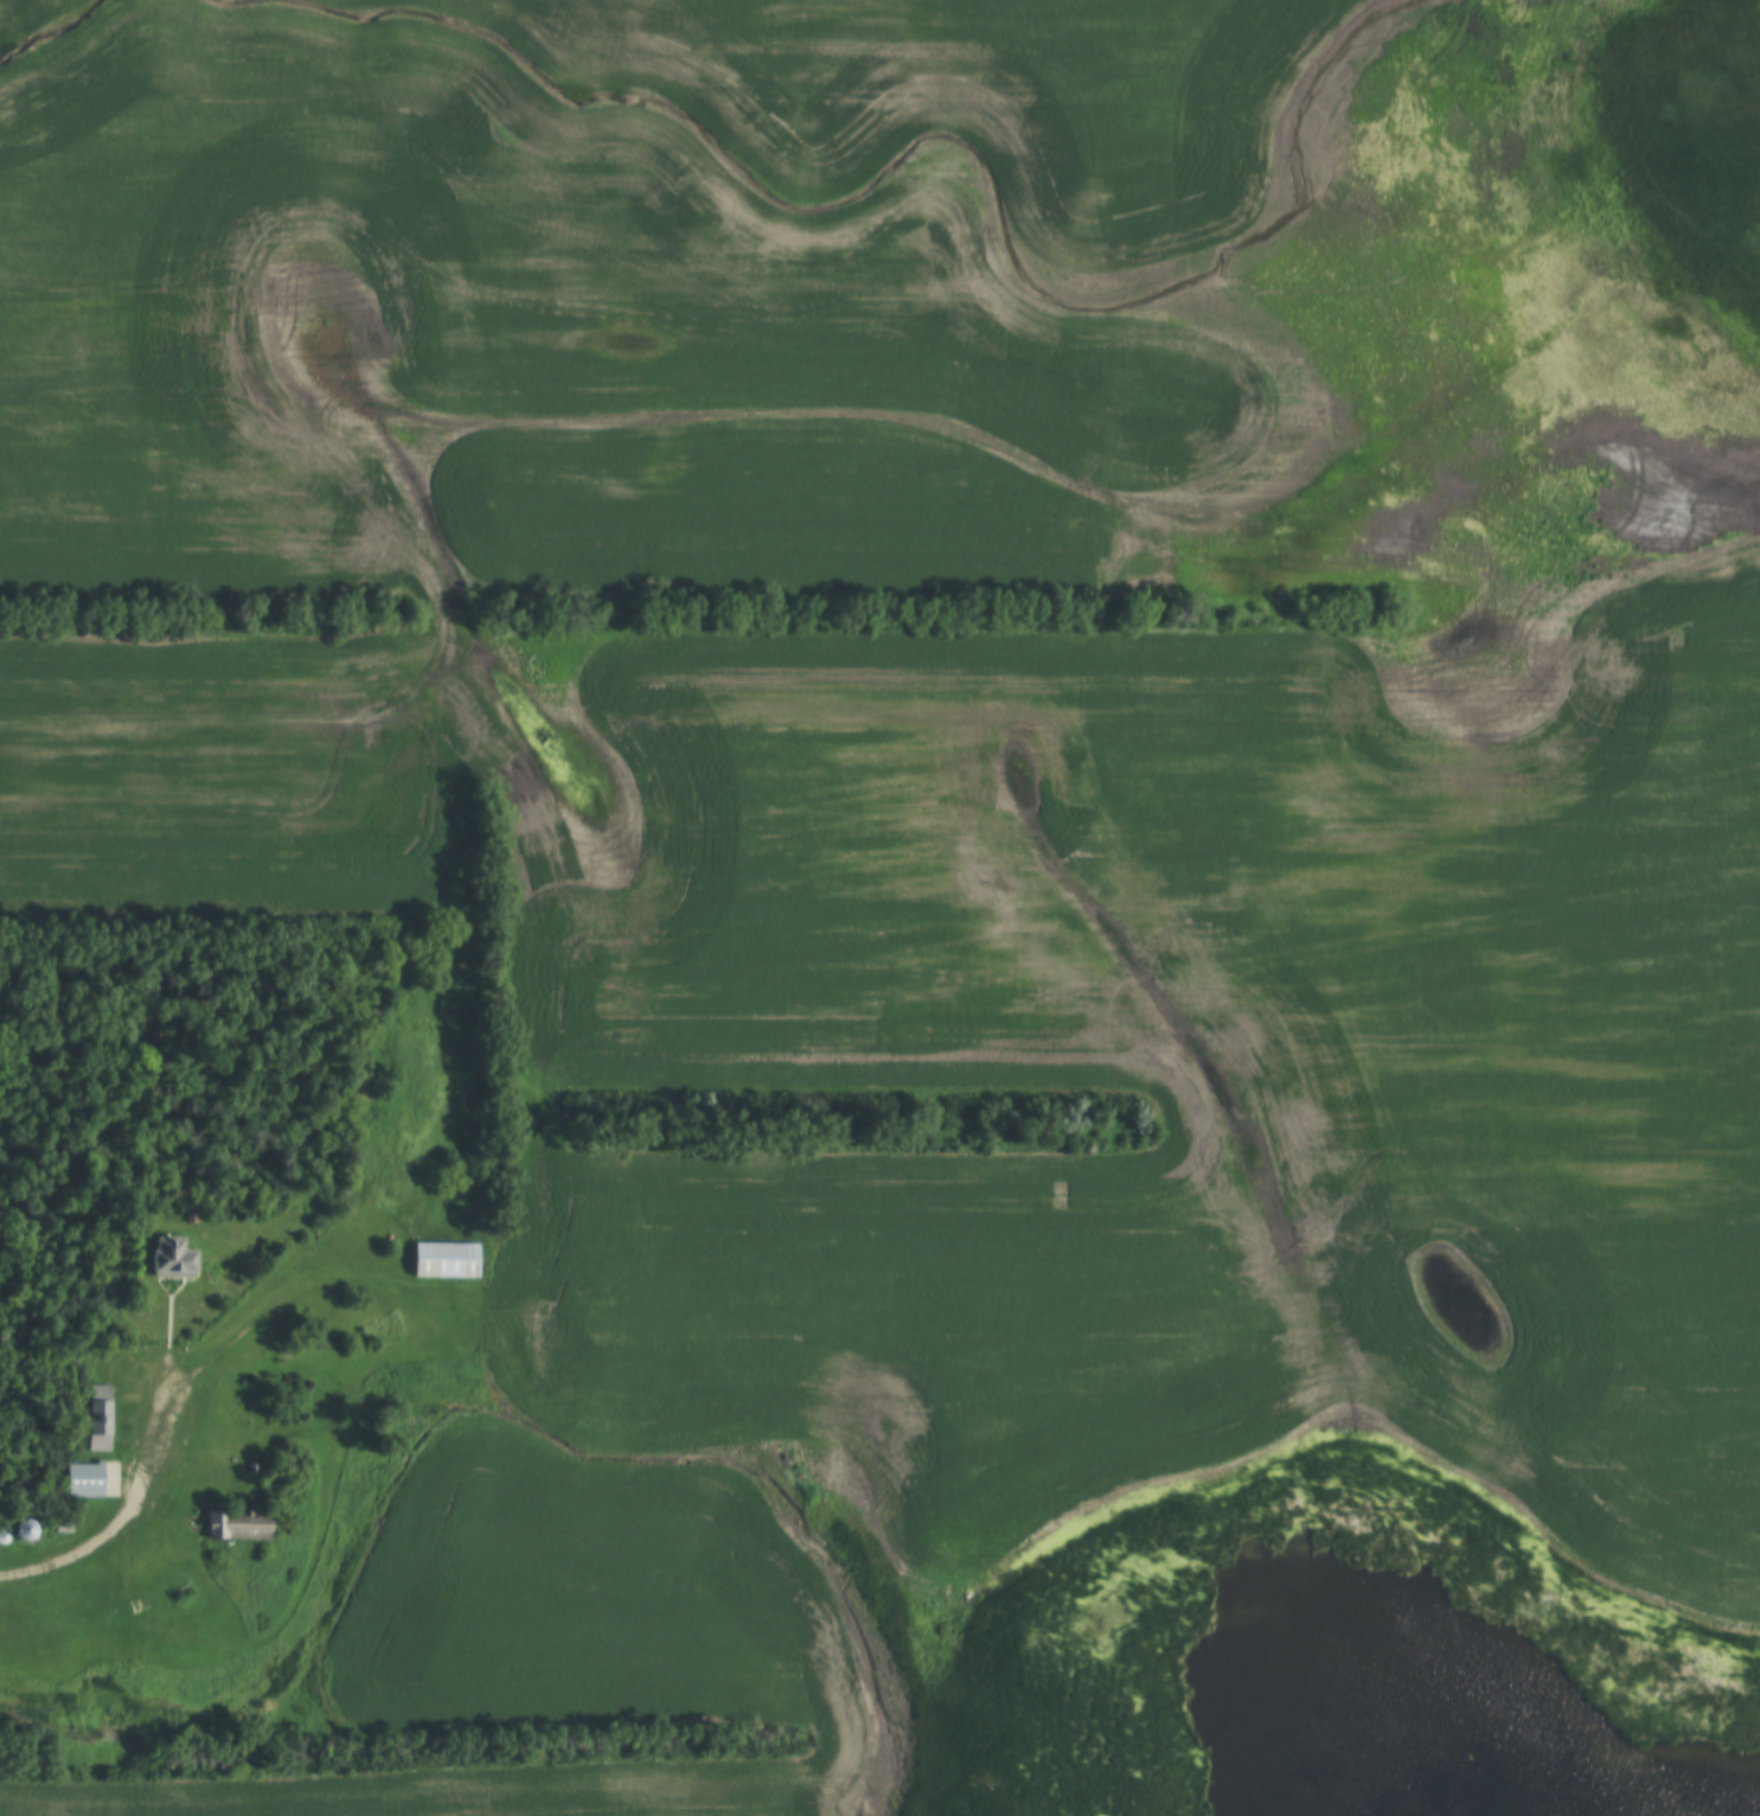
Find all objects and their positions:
building: (173, 1257)
building: (447, 1259)
building: (100, 1417)
building: (91, 1479)
building: (239, 1523)
road: (126, 1526)
building: (26, 1528)

